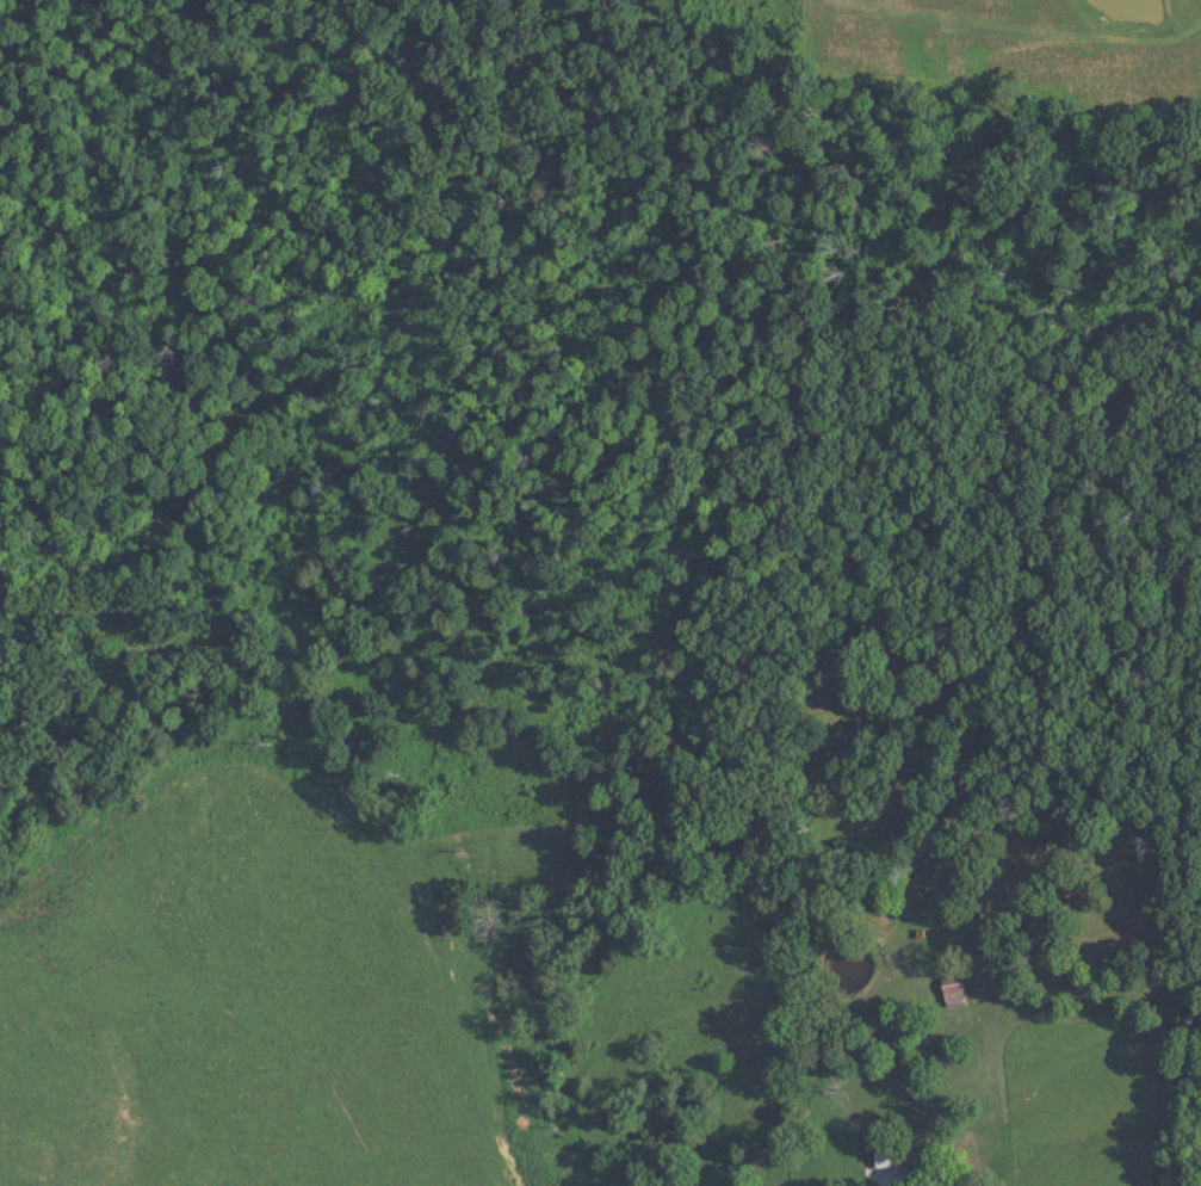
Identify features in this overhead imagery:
building: (953, 992)

